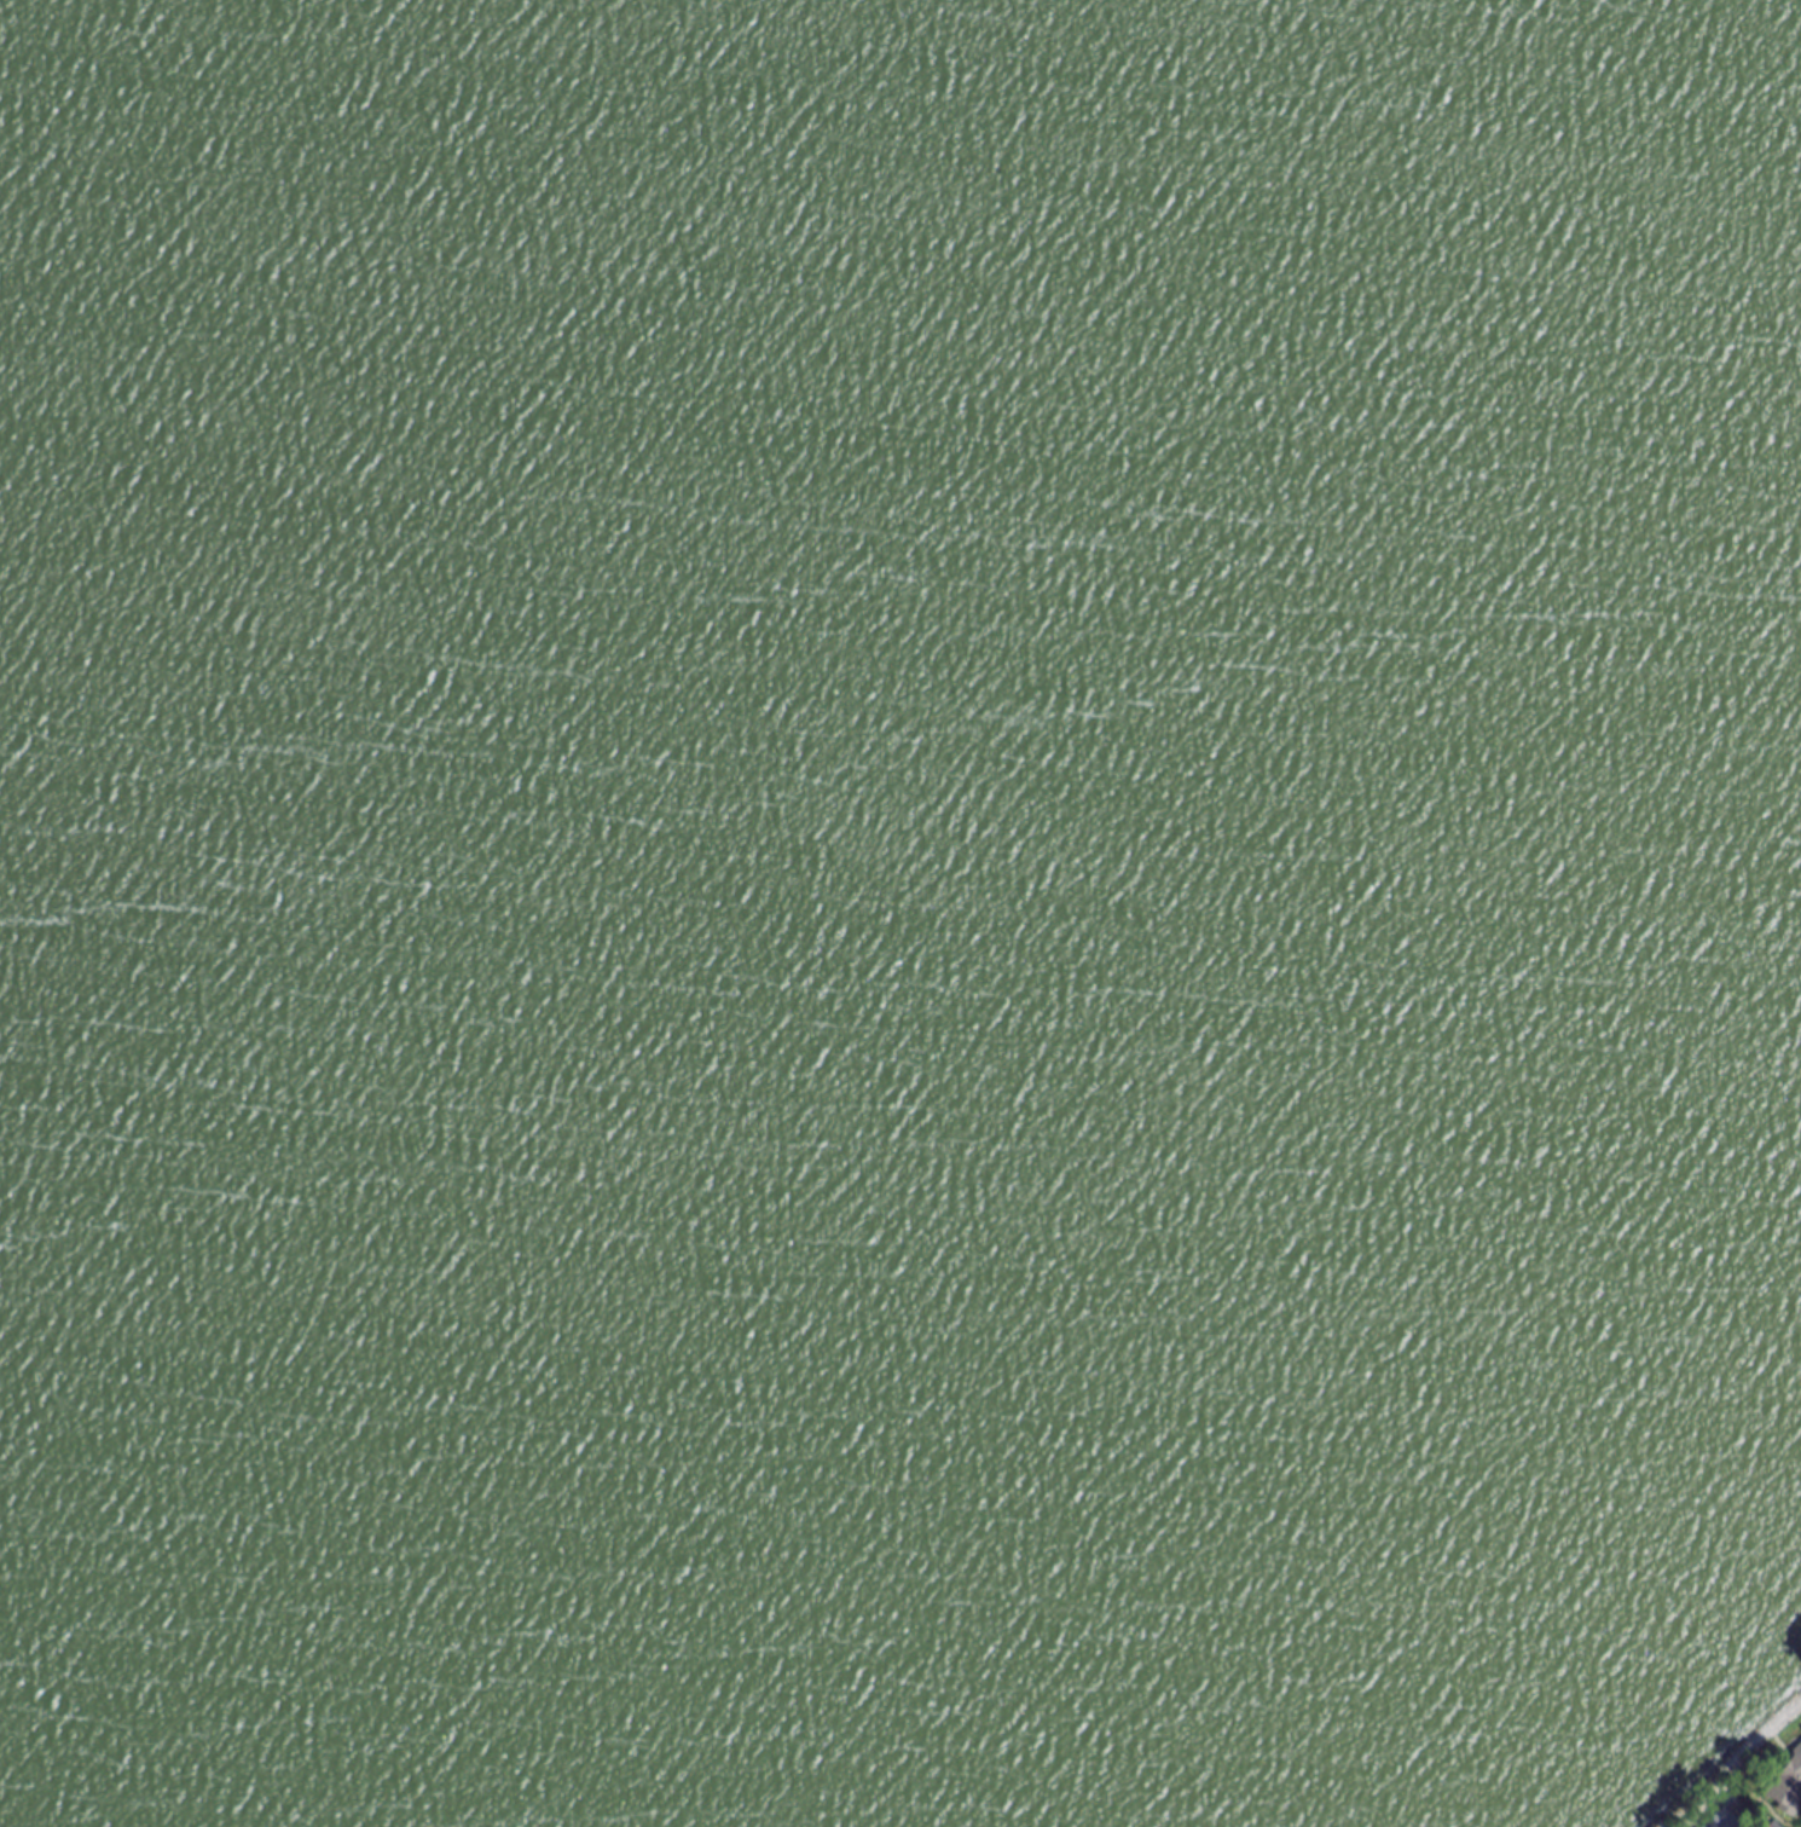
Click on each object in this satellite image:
building: (1788, 1786)
building: (1726, 1820)
building: (1777, 1825)

